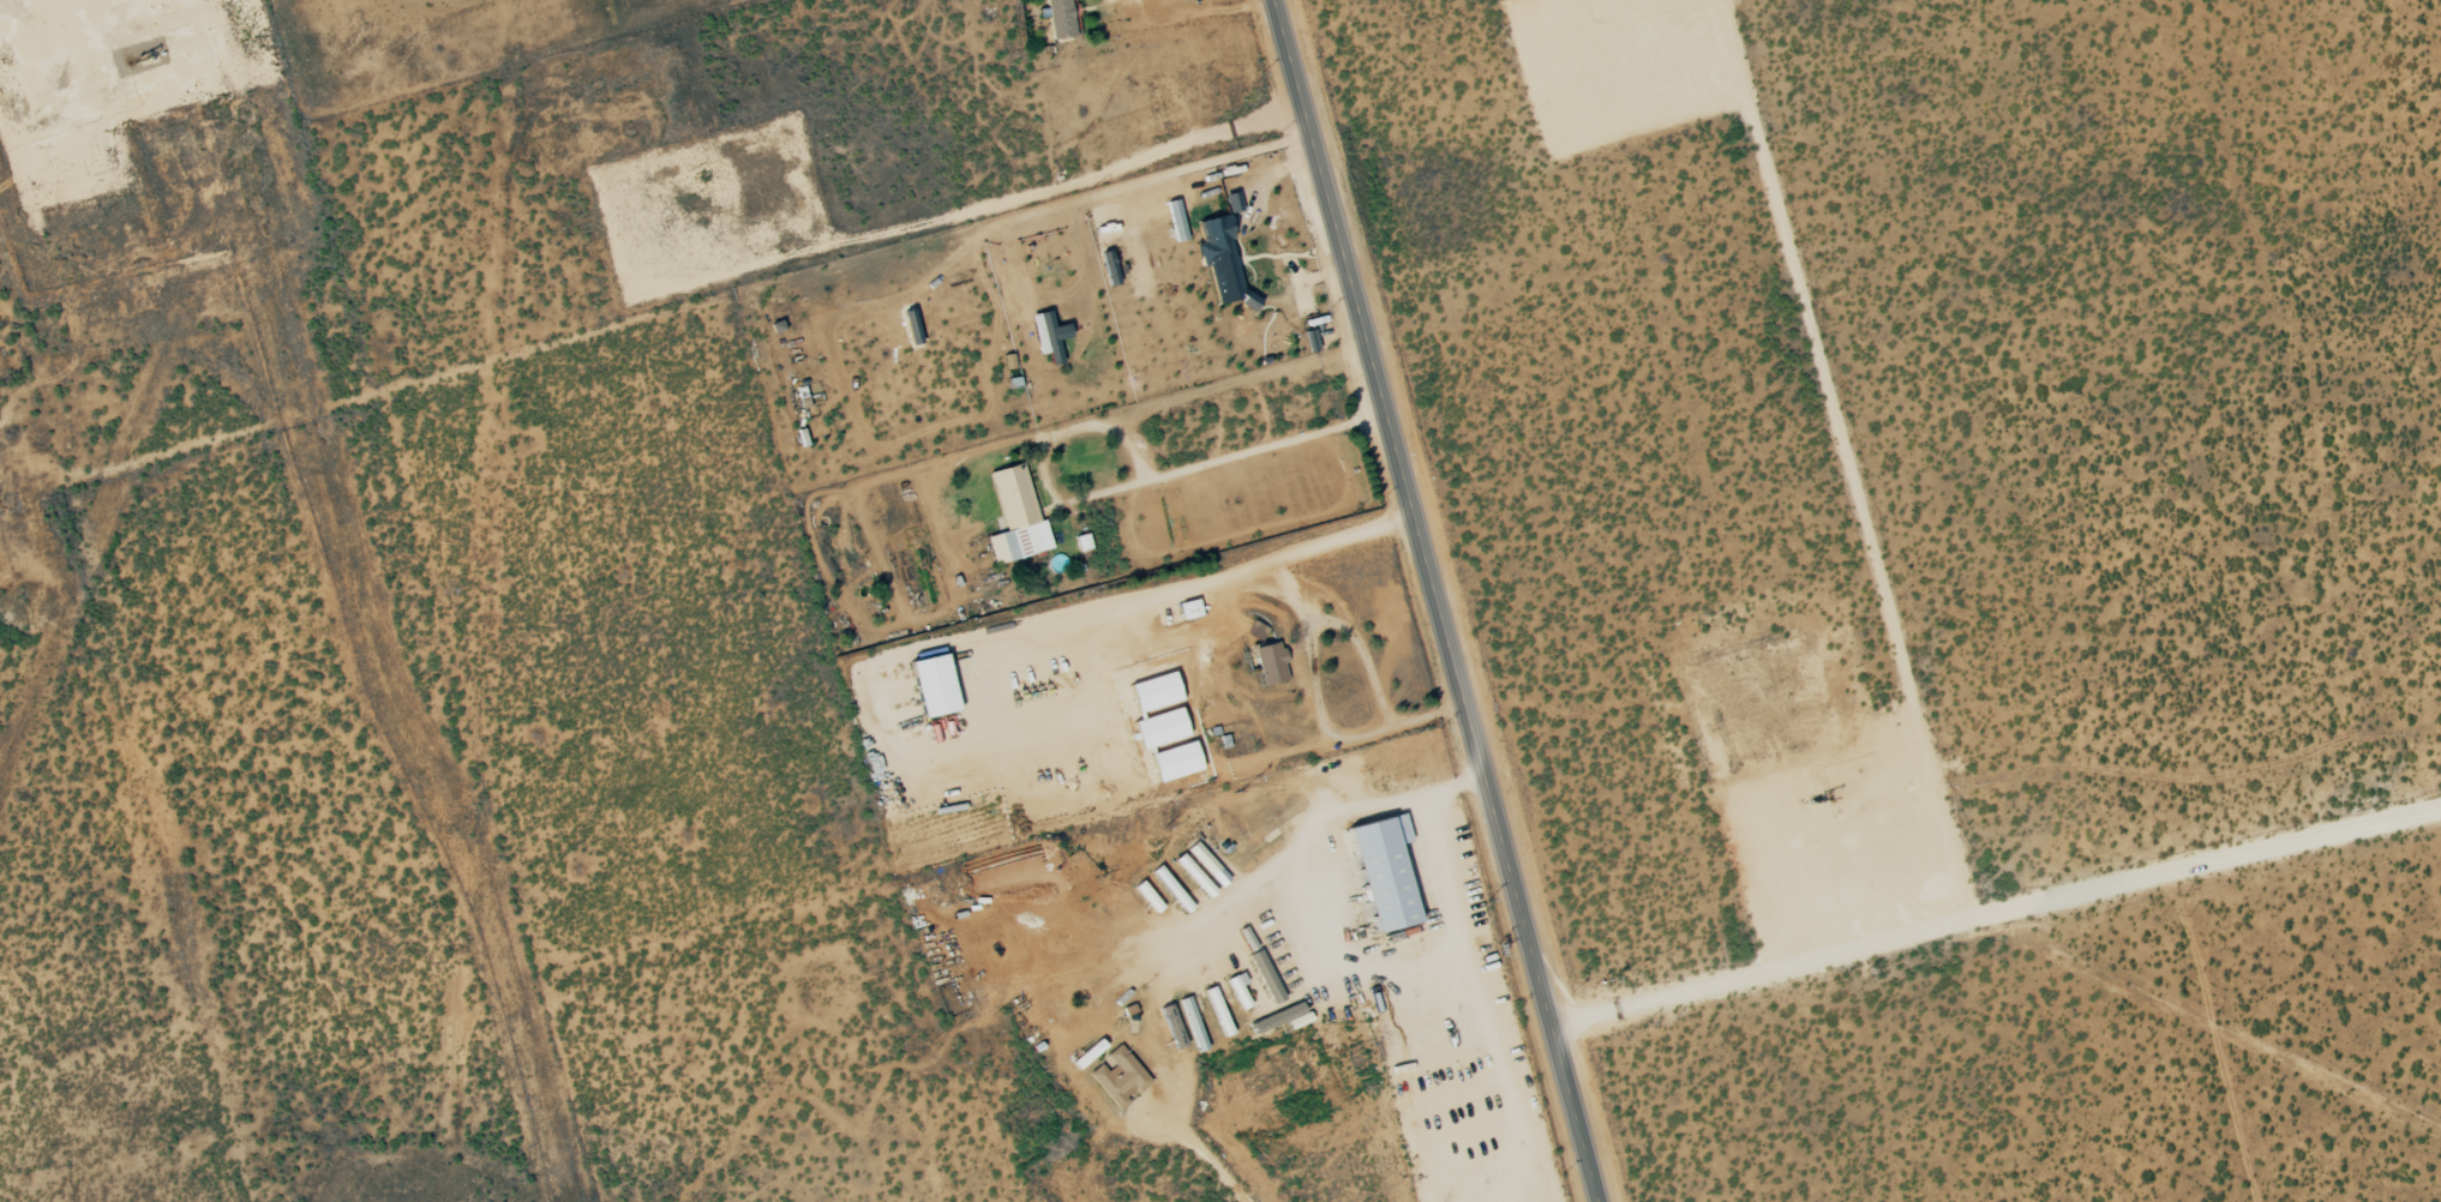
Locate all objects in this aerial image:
building: (1058, 18)
building: (1231, 203)
road: (1051, 209)
building: (1175, 221)
building: (1213, 254)
building: (1048, 336)
building: (1015, 518)
road: (1431, 600)
building: (1189, 609)
building: (1257, 631)
building: (1270, 663)
road: (635, 680)
building: (932, 686)
building: (1153, 692)
building: (1159, 728)
building: (1175, 762)
building: (1206, 864)
building: (1383, 872)
building: (1194, 876)
building: (1171, 889)
building: (1147, 897)
building: (1265, 976)
building: (1112, 988)
building: (1237, 991)
building: (1217, 1011)
building: (1282, 1018)
building: (1192, 1024)
building: (1172, 1026)
building: (1087, 1054)
building: (1117, 1077)

